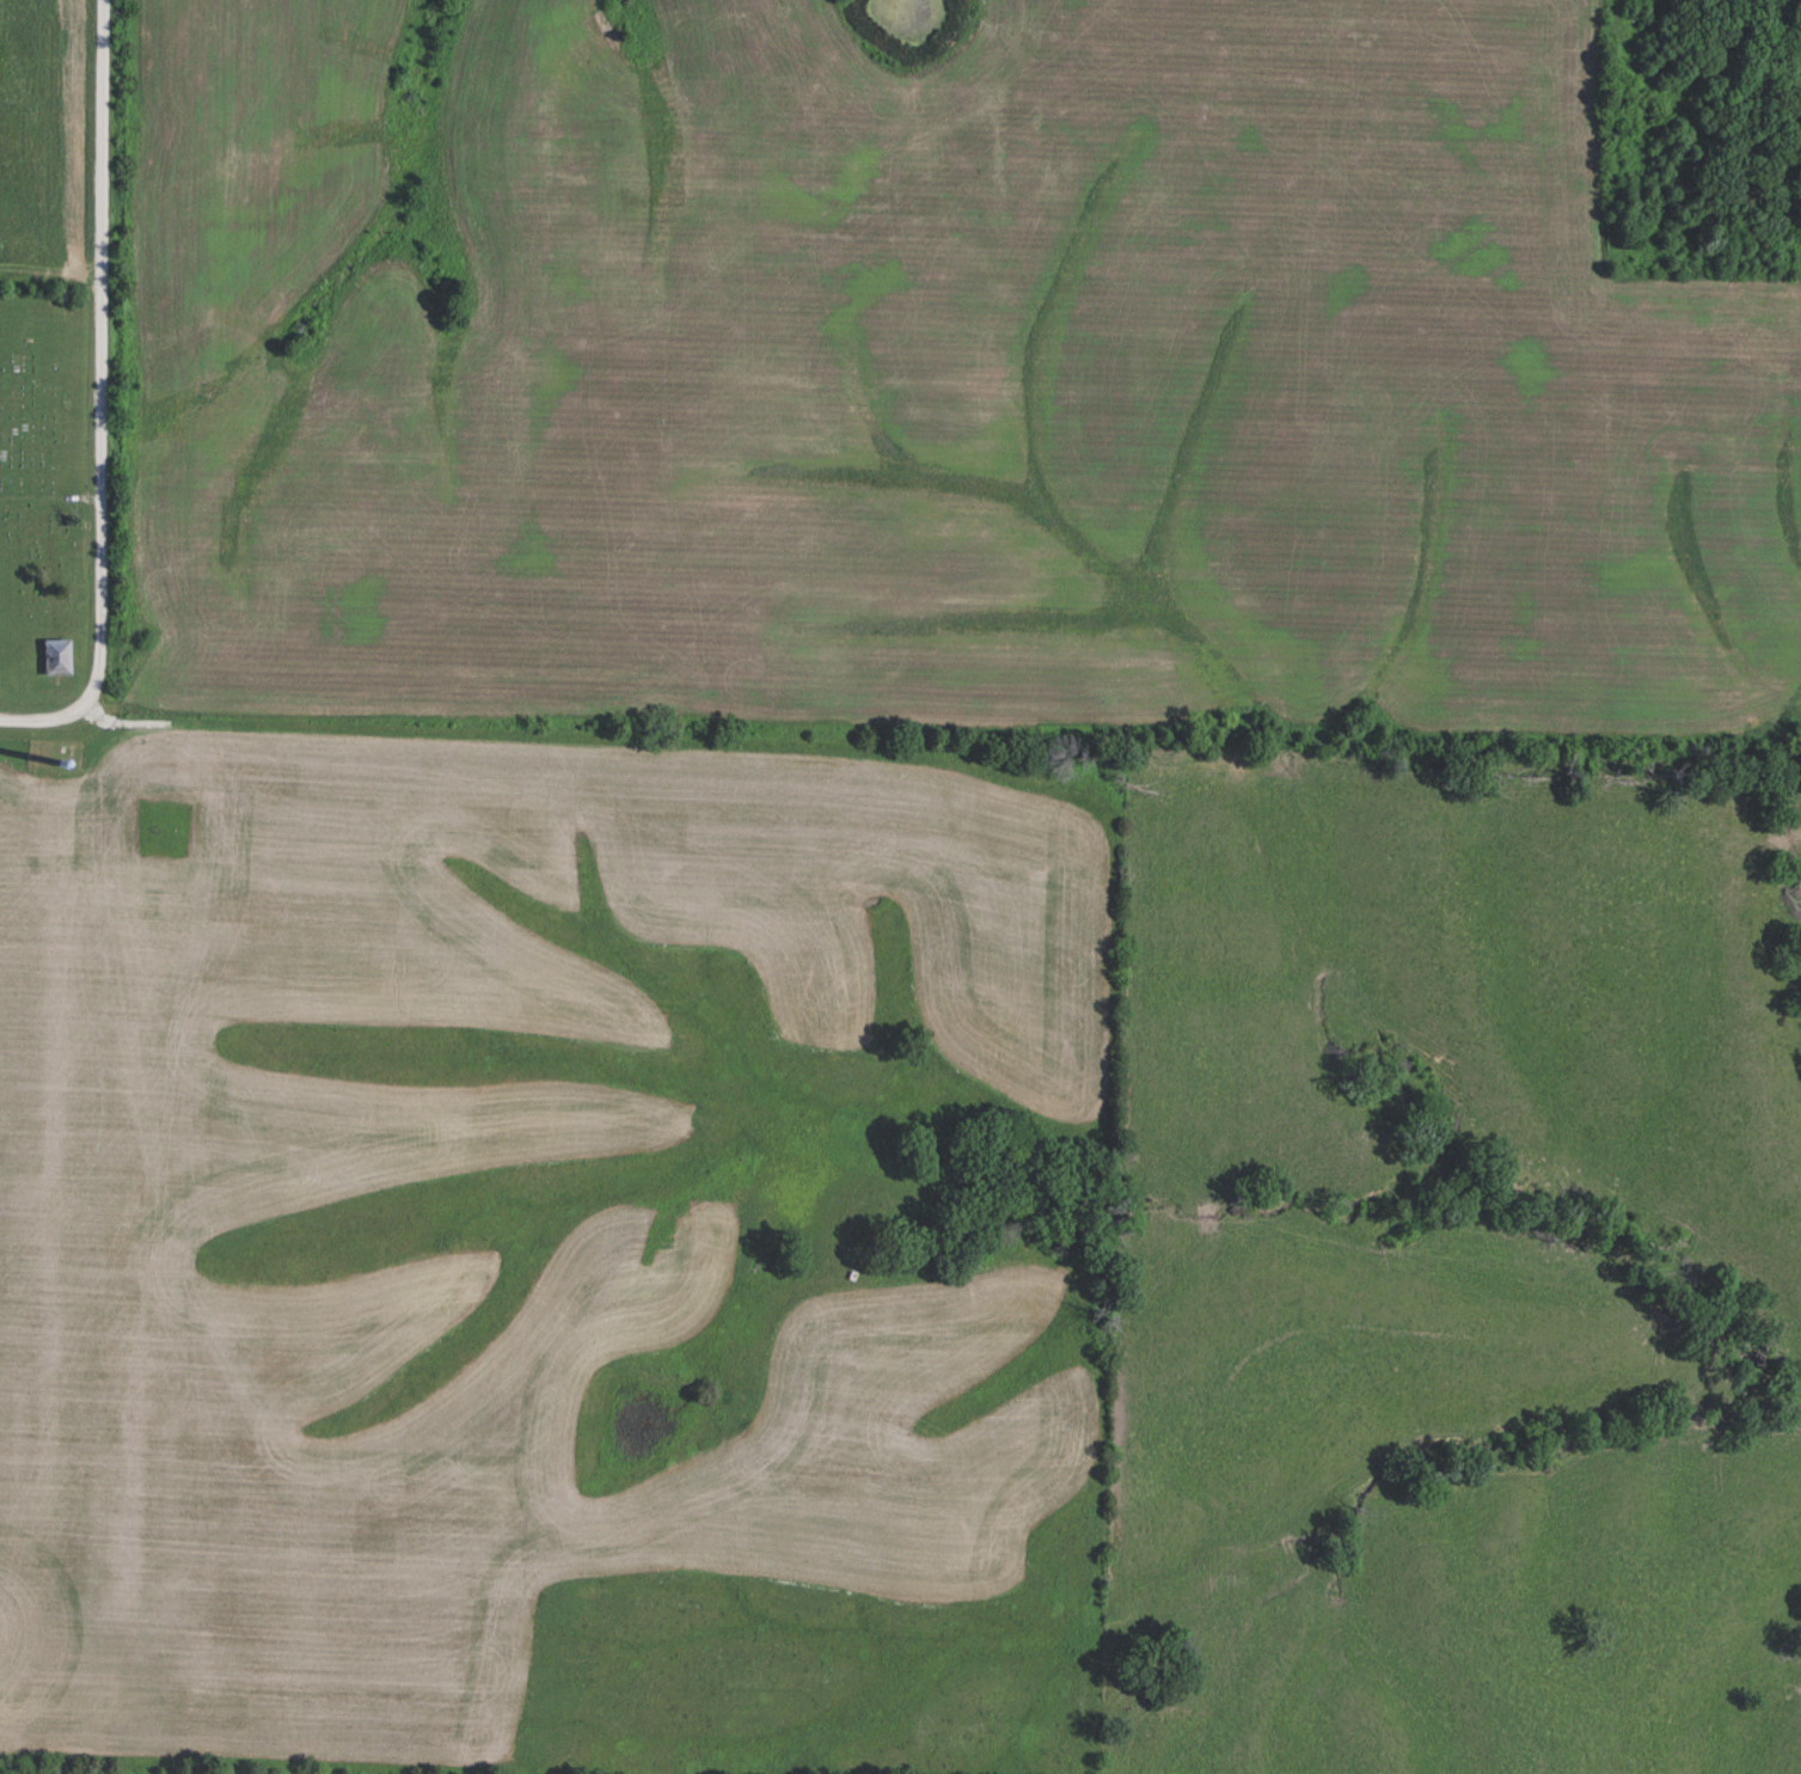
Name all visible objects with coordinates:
road: (102, 400)
park: (42, 488)
building: (61, 657)

